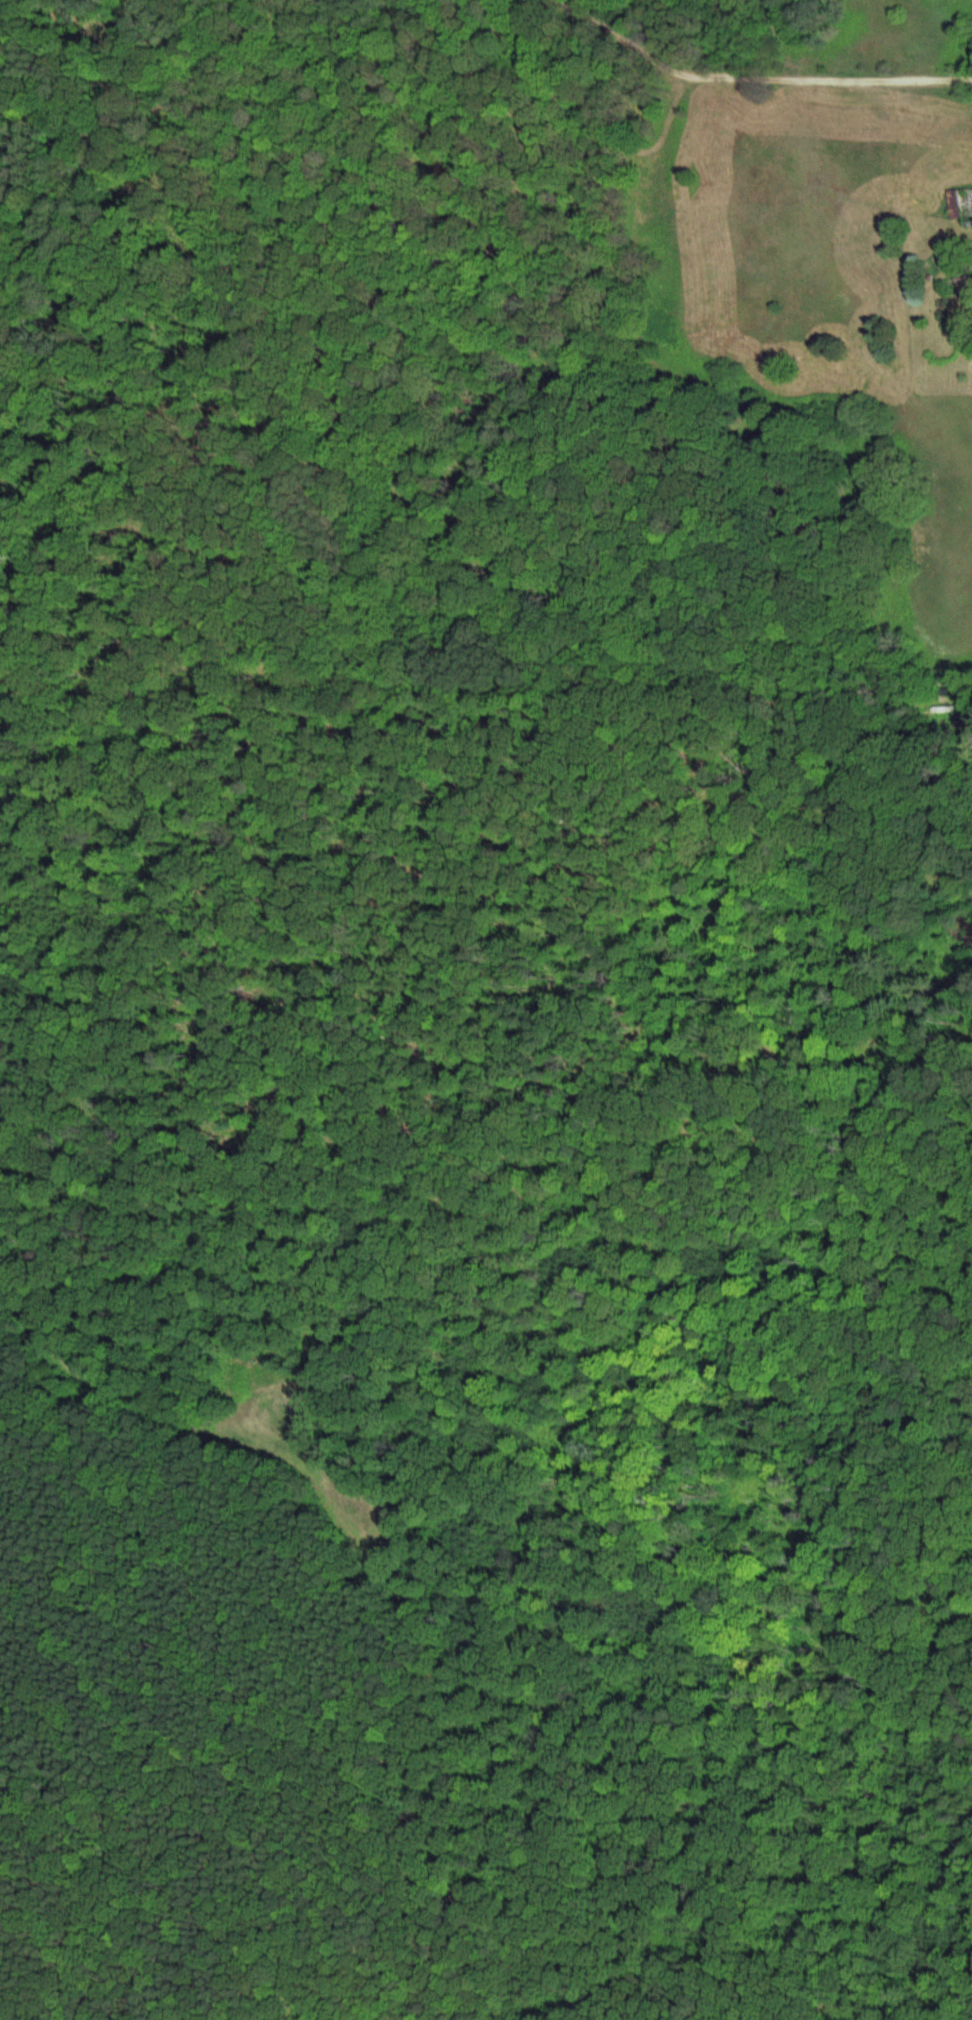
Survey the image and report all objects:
road: (749, 83)
building: (966, 205)

